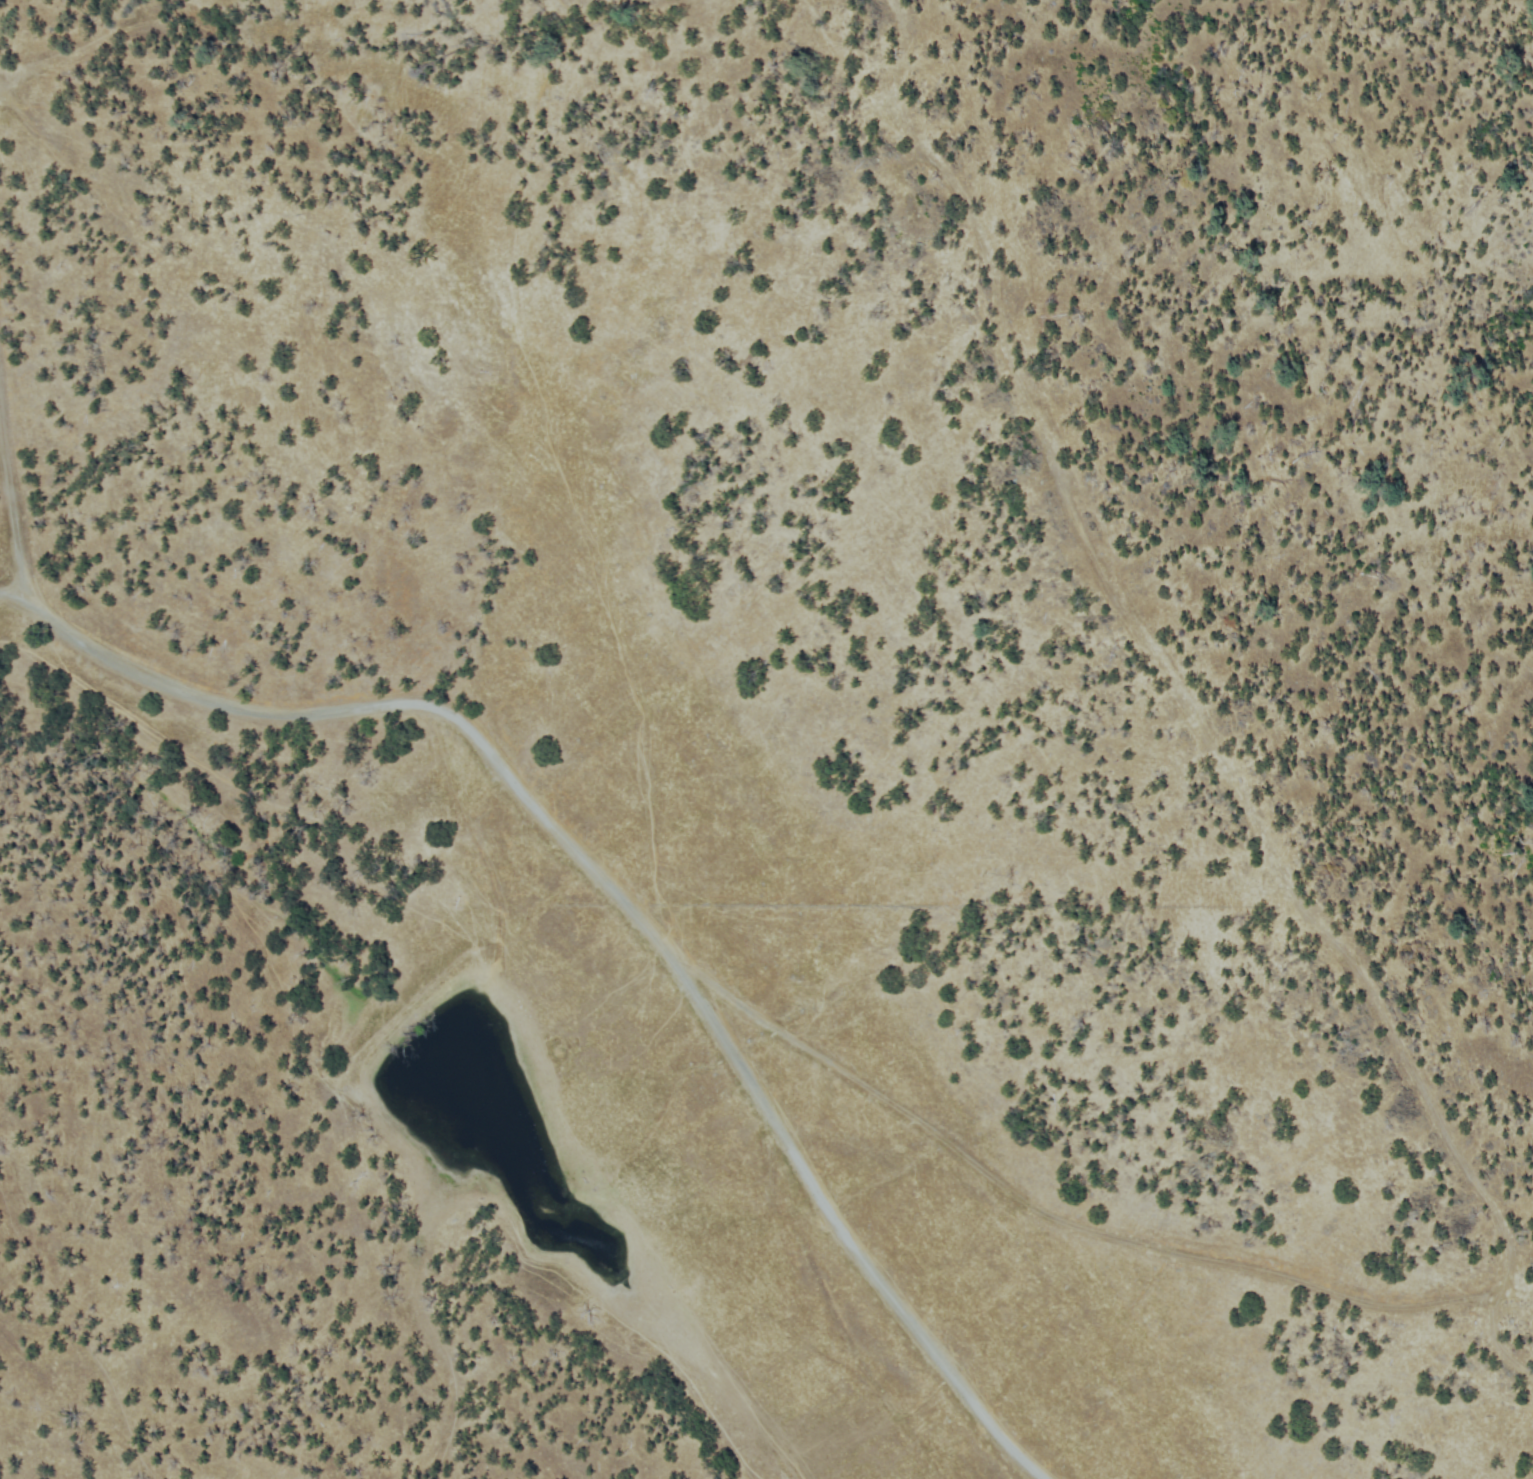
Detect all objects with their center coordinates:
road: (613, 900)

